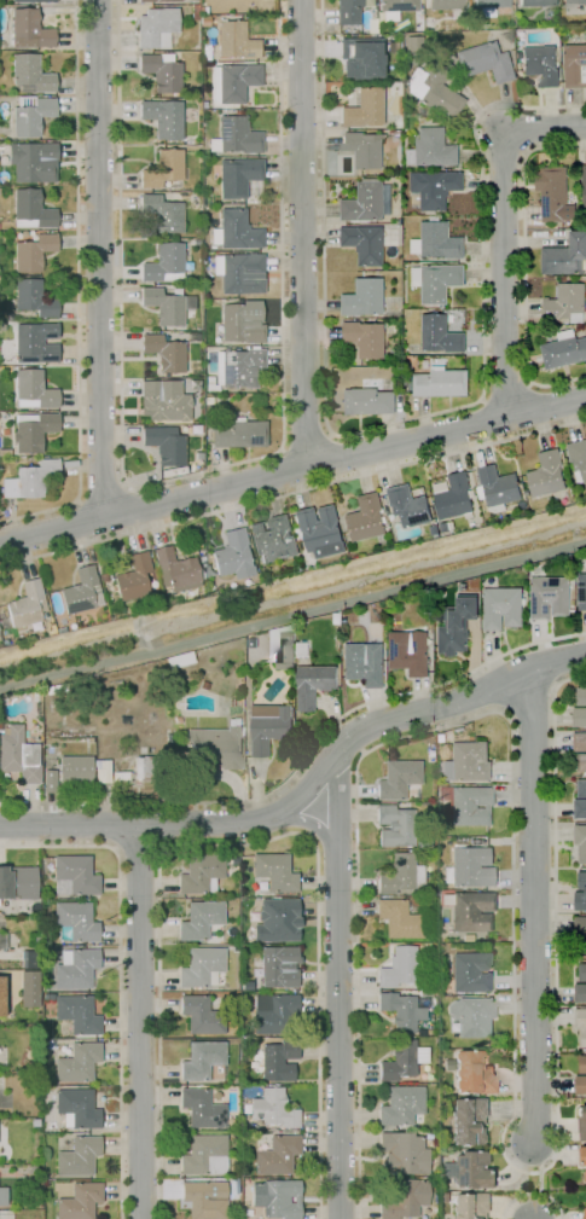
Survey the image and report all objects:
building: (35, 0)
building: (156, 0)
building: (574, 1)
building: (535, 2)
building: (445, 4)
building: (227, 5)
building: (398, 5)
building: (489, 6)
building: (203, 10)
building: (347, 11)
building: (195, 12)
building: (512, 24)
building: (156, 28)
building: (29, 29)
building: (556, 30)
building: (236, 40)
building: (413, 45)
building: (205, 54)
building: (360, 57)
building: (483, 62)
building: (541, 64)
building: (575, 65)
building: (162, 71)
building: (30, 75)
building: (237, 80)
building: (433, 89)
building: (362, 108)
building: (419, 112)
building: (30, 115)
building: (163, 117)
building: (236, 135)
building: (364, 149)
building: (431, 149)
building: (31, 162)
building: (162, 168)
building: (239, 178)
building: (584, 186)
building: (434, 188)
building: (555, 196)
building: (367, 203)
building: (31, 209)
building: (162, 213)
road: (501, 230)
building: (234, 231)
road: (301, 233)
building: (437, 242)
building: (196, 243)
building: (365, 243)
building: (33, 251)
building: (565, 256)
road: (98, 259)
building: (163, 263)
road: (524, 266)
building: (239, 273)
building: (437, 281)
road: (77, 290)
building: (33, 297)
building: (365, 298)
building: (567, 302)
building: (163, 306)
building: (242, 321)
building: (440, 336)
building: (366, 339)
building: (35, 342)
building: (563, 350)
building: (164, 353)
building: (236, 367)
building: (395, 372)
building: (441, 383)
road: (507, 385)
building: (33, 390)
building: (163, 400)
building: (209, 400)
building: (366, 401)
road: (544, 405)
road: (486, 422)
road: (389, 424)
building: (31, 430)
building: (130, 430)
building: (239, 434)
road: (306, 441)
building: (164, 445)
building: (5, 452)
building: (197, 454)
road: (331, 459)
building: (578, 459)
road: (292, 471)
road: (187, 475)
building: (547, 475)
road: (275, 476)
building: (29, 480)
building: (497, 489)
road: (292, 493)
road: (104, 494)
building: (454, 498)
building: (410, 506)
road: (134, 510)
building: (367, 518)
road: (83, 521)
building: (445, 527)
building: (434, 530)
building: (320, 532)
building: (273, 540)
building: (232, 556)
building: (175, 569)
building: (103, 576)
building: (133, 577)
building: (81, 592)
building: (582, 592)
building: (550, 597)
building: (27, 604)
building: (395, 606)
building: (503, 608)
road: (292, 615)
building: (457, 627)
building: (248, 642)
building: (257, 642)
building: (285, 650)
building: (408, 652)
building: (179, 660)
building: (365, 663)
building: (202, 684)
building: (313, 685)
building: (59, 686)
building: (48, 690)
building: (39, 696)
building: (581, 697)
building: (232, 702)
building: (580, 718)
building: (175, 719)
building: (234, 722)
building: (269, 727)
building: (437, 738)
building: (579, 742)
building: (215, 747)
building: (18, 754)
road: (302, 761)
building: (466, 762)
building: (581, 762)
building: (144, 767)
building: (75, 770)
building: (101, 771)
building: (118, 774)
building: (398, 778)
building: (48, 780)
road: (306, 788)
building: (581, 789)
building: (466, 803)
building: (580, 809)
road: (168, 823)
road: (315, 823)
road: (116, 824)
building: (394, 825)
building: (422, 838)
building: (580, 842)
road: (243, 844)
road: (137, 848)
building: (468, 867)
building: (274, 871)
building: (201, 873)
building: (74, 875)
building: (400, 875)
building: (582, 881)
building: (17, 882)
building: (580, 901)
building: (45, 904)
road: (534, 909)
building: (470, 911)
road: (512, 911)
building: (398, 918)
building: (199, 919)
building: (75, 921)
building: (277, 921)
building: (580, 927)
building: (2, 941)
building: (580, 947)
building: (29, 959)
building: (278, 965)
building: (201, 967)
building: (402, 967)
building: (75, 968)
building: (470, 973)
building: (581, 973)
road: (120, 975)
building: (431, 983)
road: (337, 986)
building: (29, 988)
building: (424, 992)
building: (580, 993)
building: (0, 998)
building: (400, 1011)
building: (272, 1012)
building: (77, 1014)
building: (201, 1015)
building: (471, 1016)
road: (139, 1022)
building: (581, 1024)
building: (232, 1028)
building: (585, 1050)
building: (201, 1058)
building: (278, 1060)
building: (401, 1061)
building: (77, 1062)
building: (35, 1064)
building: (582, 1064)
building: (472, 1073)
building: (47, 1082)
building: (581, 1085)
building: (400, 1105)
building: (76, 1108)
building: (201, 1108)
building: (272, 1108)
building: (466, 1121)
building: (582, 1124)
building: (255, 1127)
building: (401, 1153)
building: (203, 1155)
building: (277, 1155)
building: (77, 1156)
building: (582, 1156)
building: (434, 1160)
building: (468, 1169)
building: (585, 1177)
road: (540, 1180)
building: (232, 1185)
road: (532, 1194)
building: (2, 1195)
building: (275, 1197)
building: (441, 1197)
building: (204, 1198)
building: (402, 1198)
building: (79, 1201)
building: (468, 1206)
building: (585, 1214)

